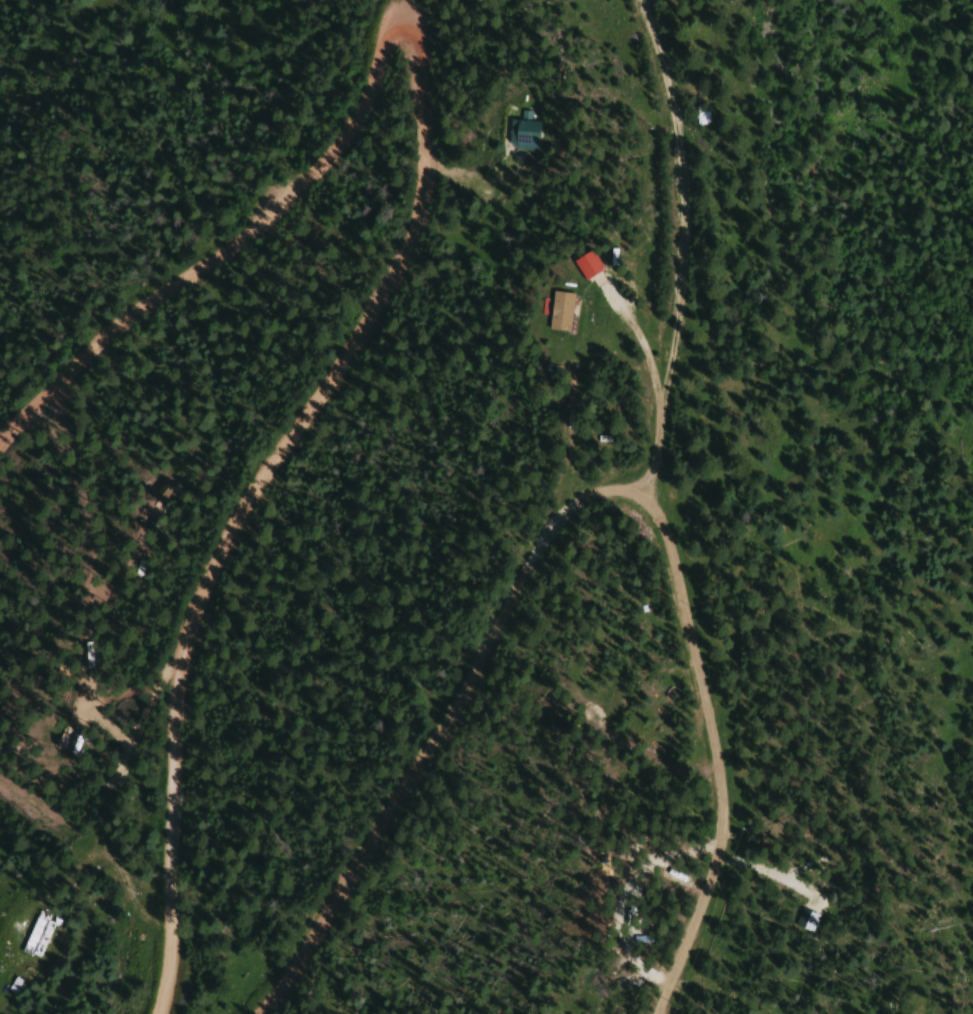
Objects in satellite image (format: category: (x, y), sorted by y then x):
building: (522, 133)
road: (401, 249)
building: (584, 264)
building: (558, 311)
road: (580, 506)
building: (37, 935)
road: (660, 1009)

